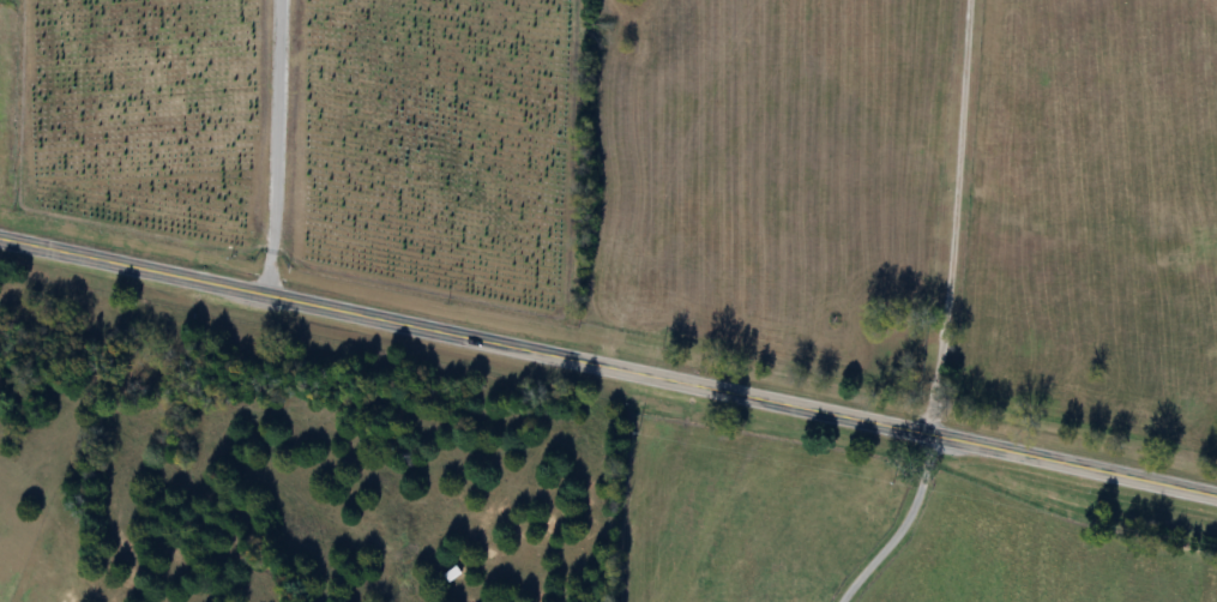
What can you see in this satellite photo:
road: (266, 145)
road: (956, 217)
road: (608, 365)
road: (890, 520)

